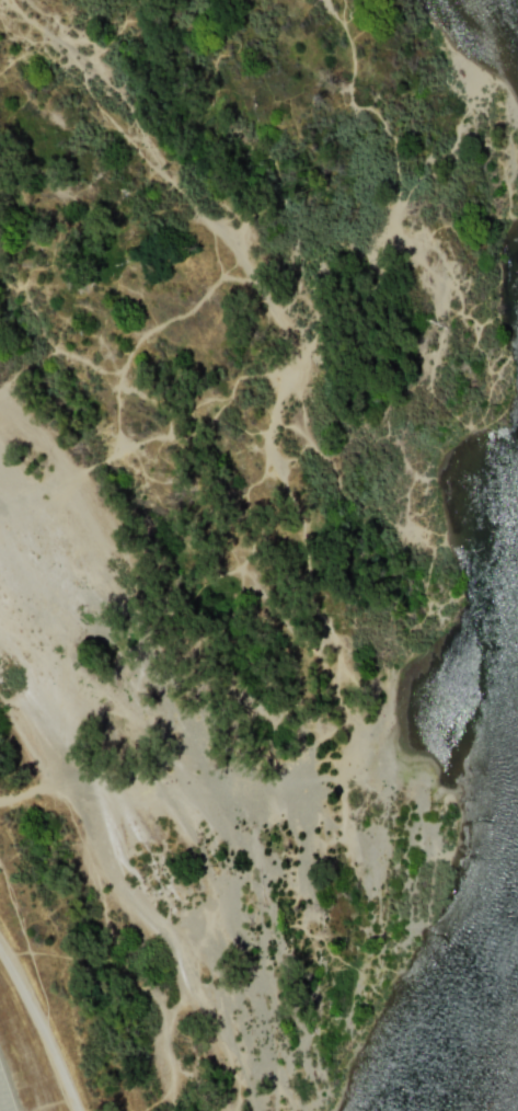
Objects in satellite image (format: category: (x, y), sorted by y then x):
road: (26, 793)
road: (42, 1027)
river: (498, 1029)
road: (4, 1098)

